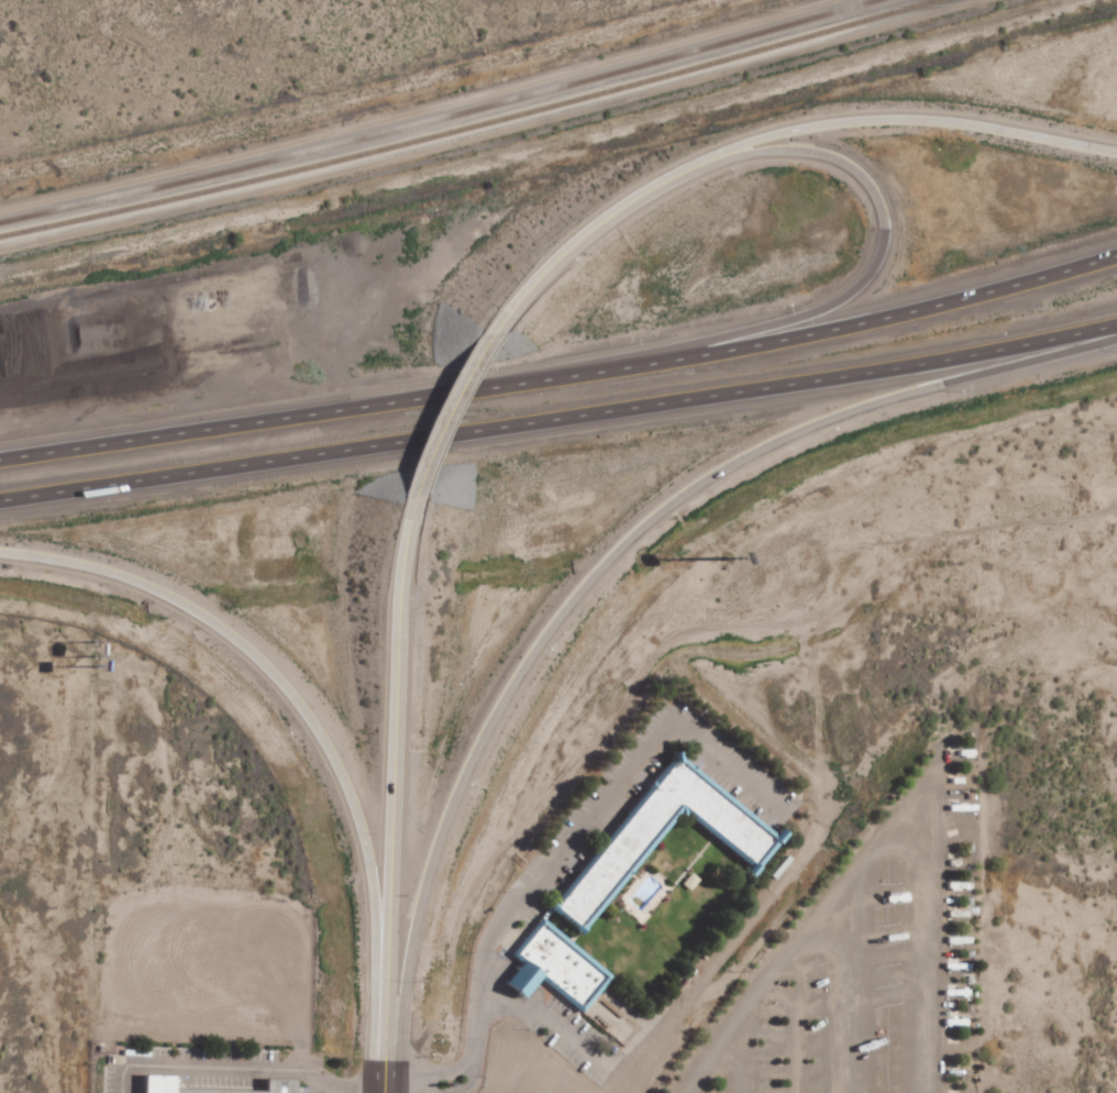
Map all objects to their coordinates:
road: (894, 118)
railway: (438, 119)
railway: (468, 128)
road: (558, 132)
road: (593, 228)
road: (850, 290)
road: (562, 373)
road: (460, 393)
road: (560, 418)
road: (607, 556)
road: (307, 715)
road: (394, 777)
road: (887, 840)
building: (626, 853)
road: (550, 869)
building: (557, 969)
road: (383, 1078)
road: (469, 1080)
building: (168, 1083)

